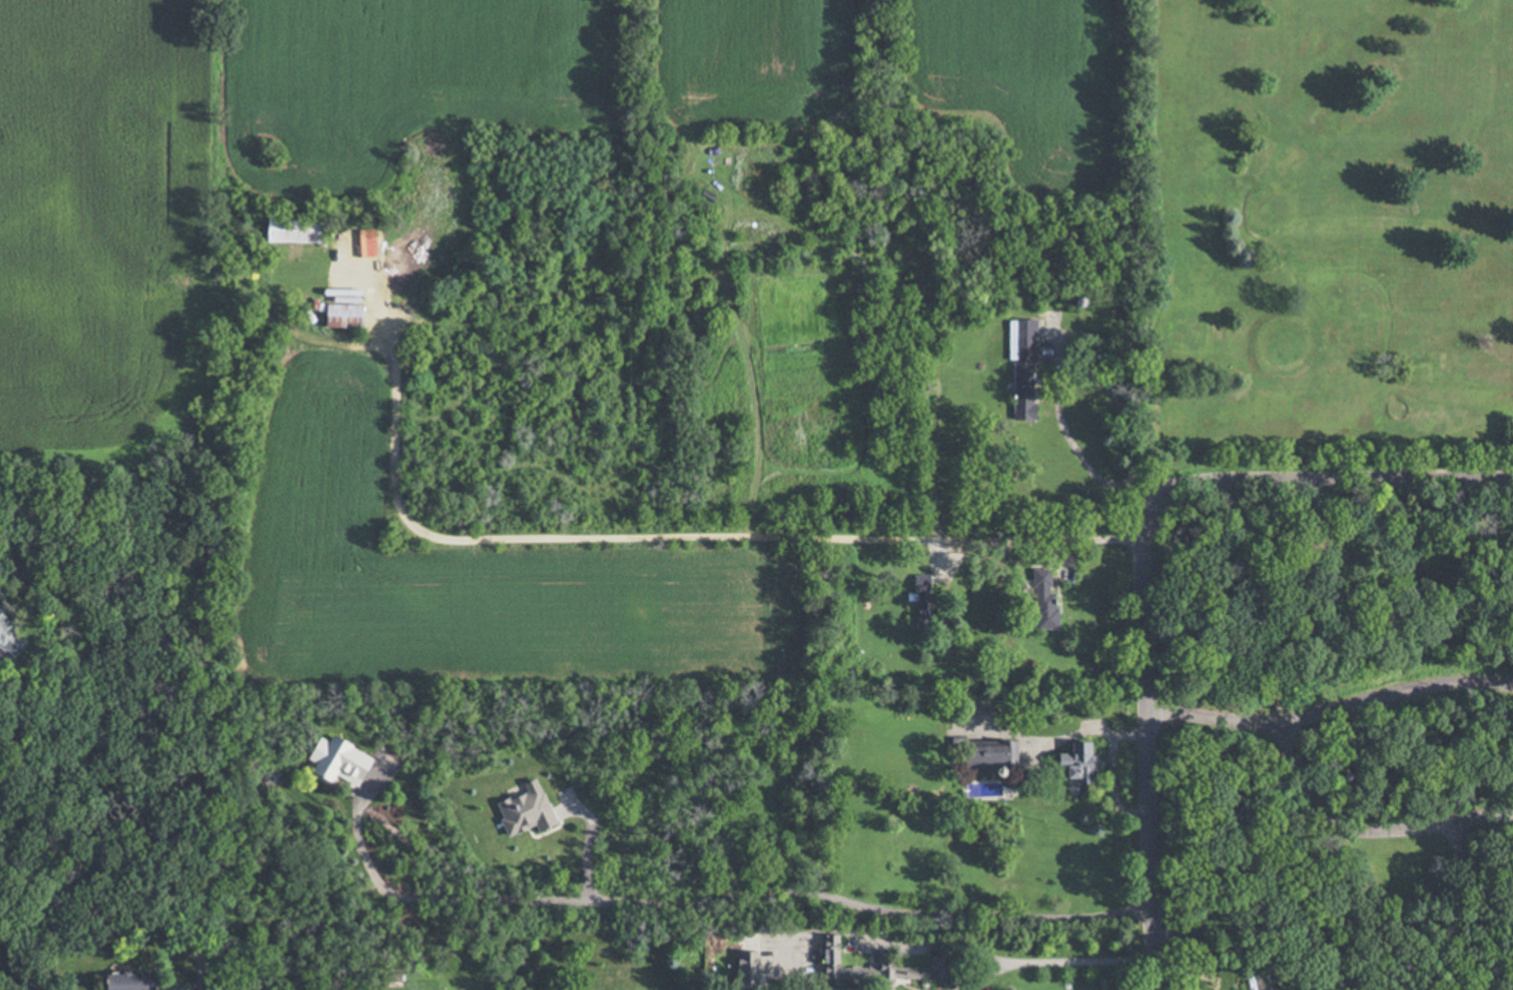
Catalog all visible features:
building: (295, 234)
building: (338, 317)
building: (1018, 335)
road: (1077, 460)
road: (1311, 485)
road: (670, 538)
building: (918, 585)
building: (1041, 598)
building: (8, 645)
road: (199, 681)
road: (1330, 710)
road: (1070, 737)
building: (983, 753)
road: (1149, 760)
building: (333, 762)
building: (1072, 764)
road: (1361, 831)
road: (712, 893)
road: (1270, 928)
building: (829, 958)
road: (1006, 962)
building: (745, 966)
building: (117, 982)
building: (1266, 988)

